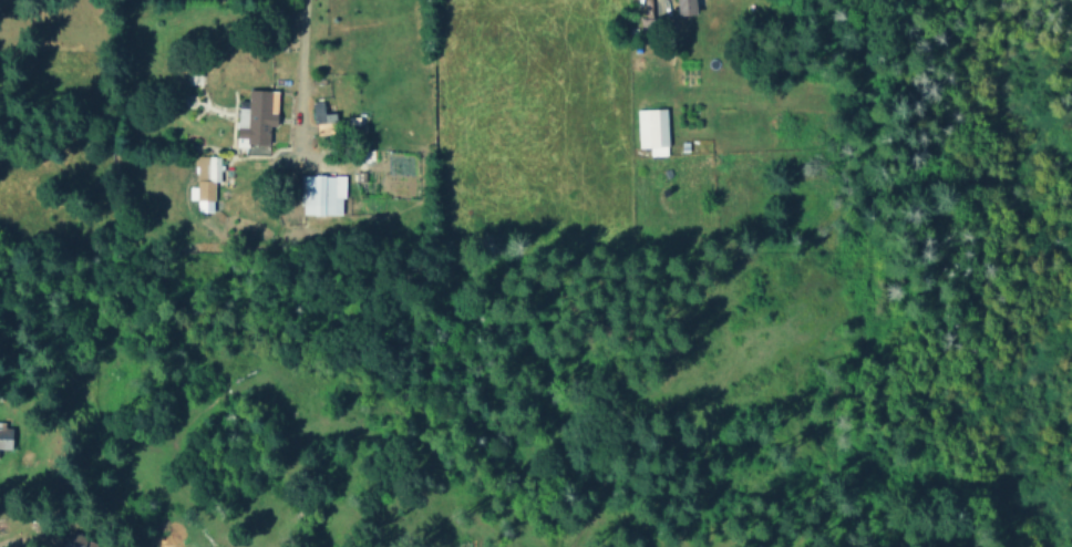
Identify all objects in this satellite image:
building: (686, 7)
road: (437, 42)
road: (296, 73)
road: (526, 102)
building: (256, 116)
building: (651, 131)
building: (203, 182)
building: (321, 194)
road: (777, 220)
building: (6, 436)
building: (74, 540)

